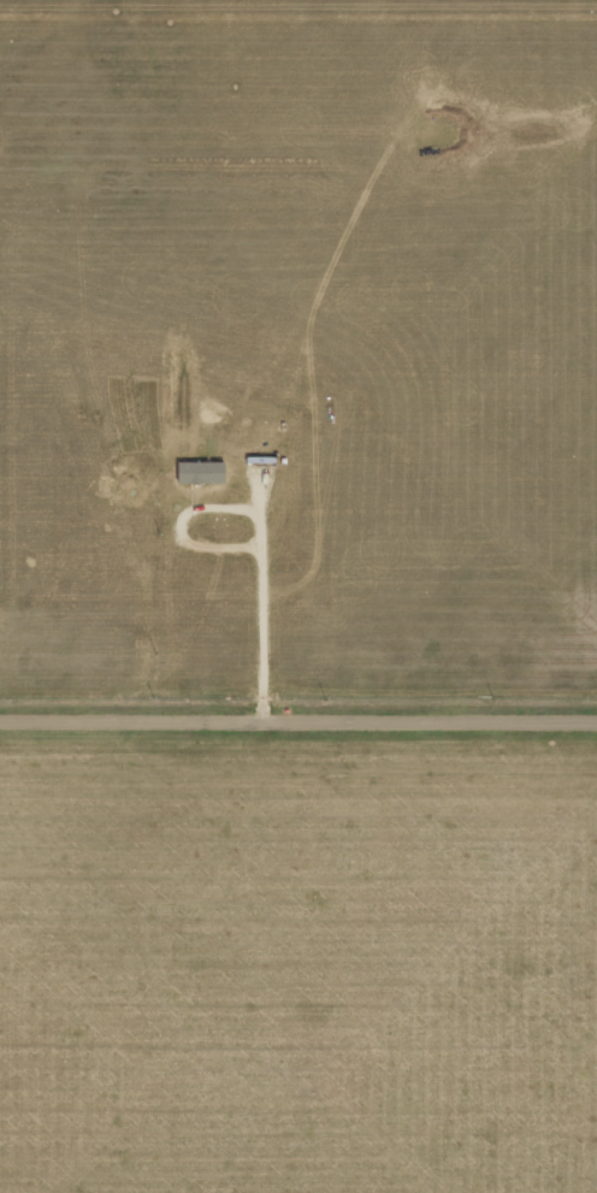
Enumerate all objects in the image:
building: (200, 471)
road: (298, 717)

